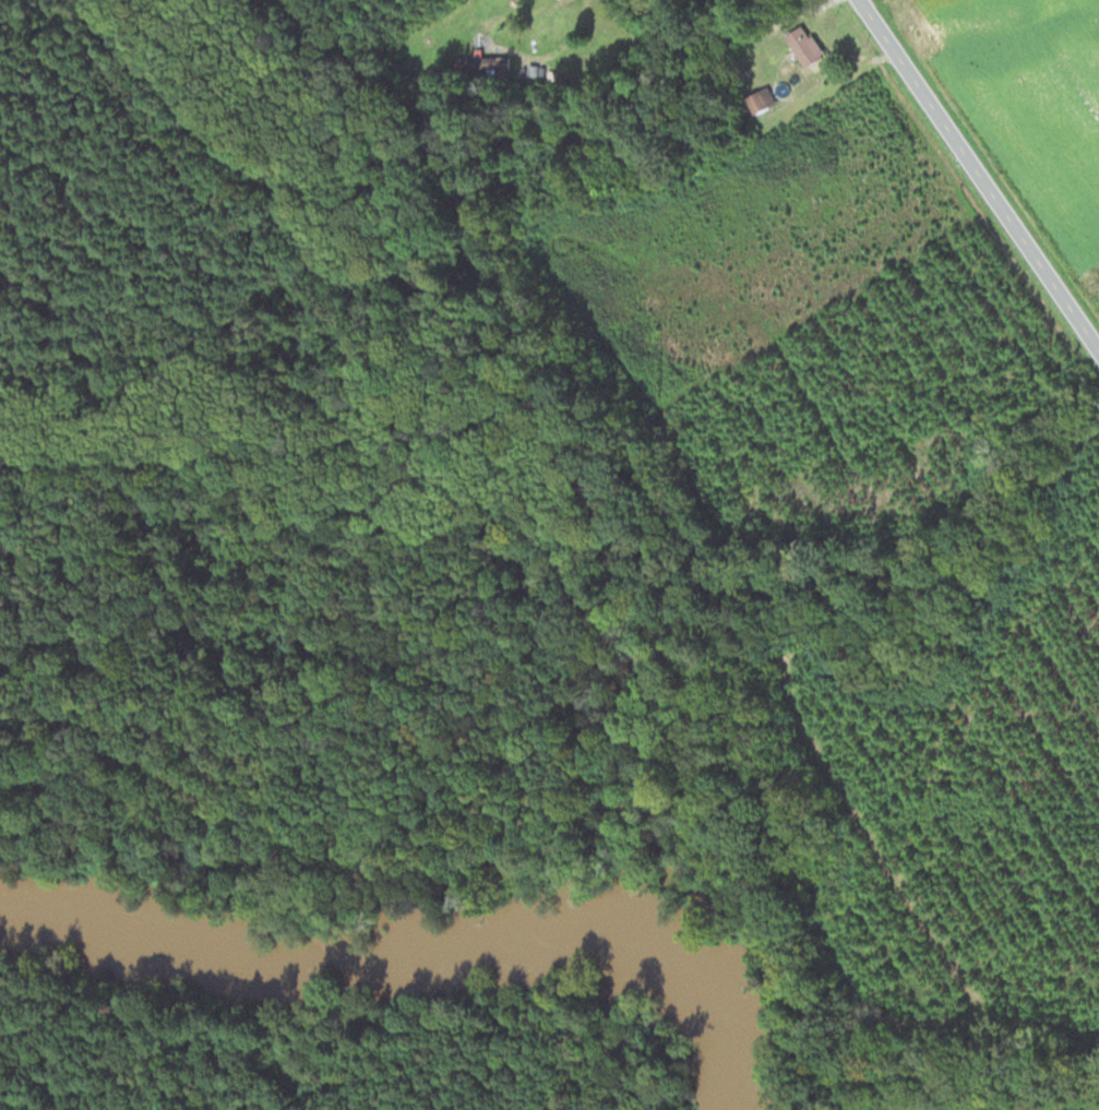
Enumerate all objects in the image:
road: (527, 9)
building: (804, 45)
building: (485, 61)
road: (978, 176)
river: (415, 952)

